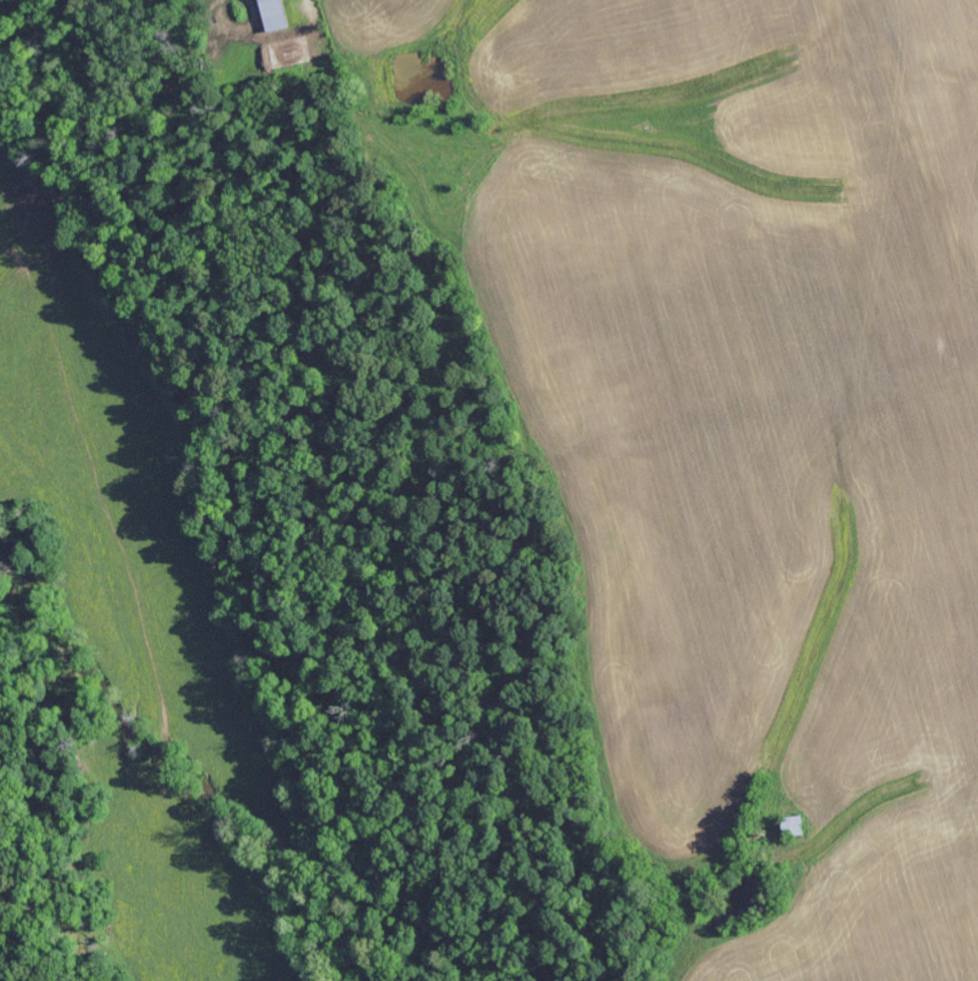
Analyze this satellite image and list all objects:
building: (278, 15)
building: (797, 826)

